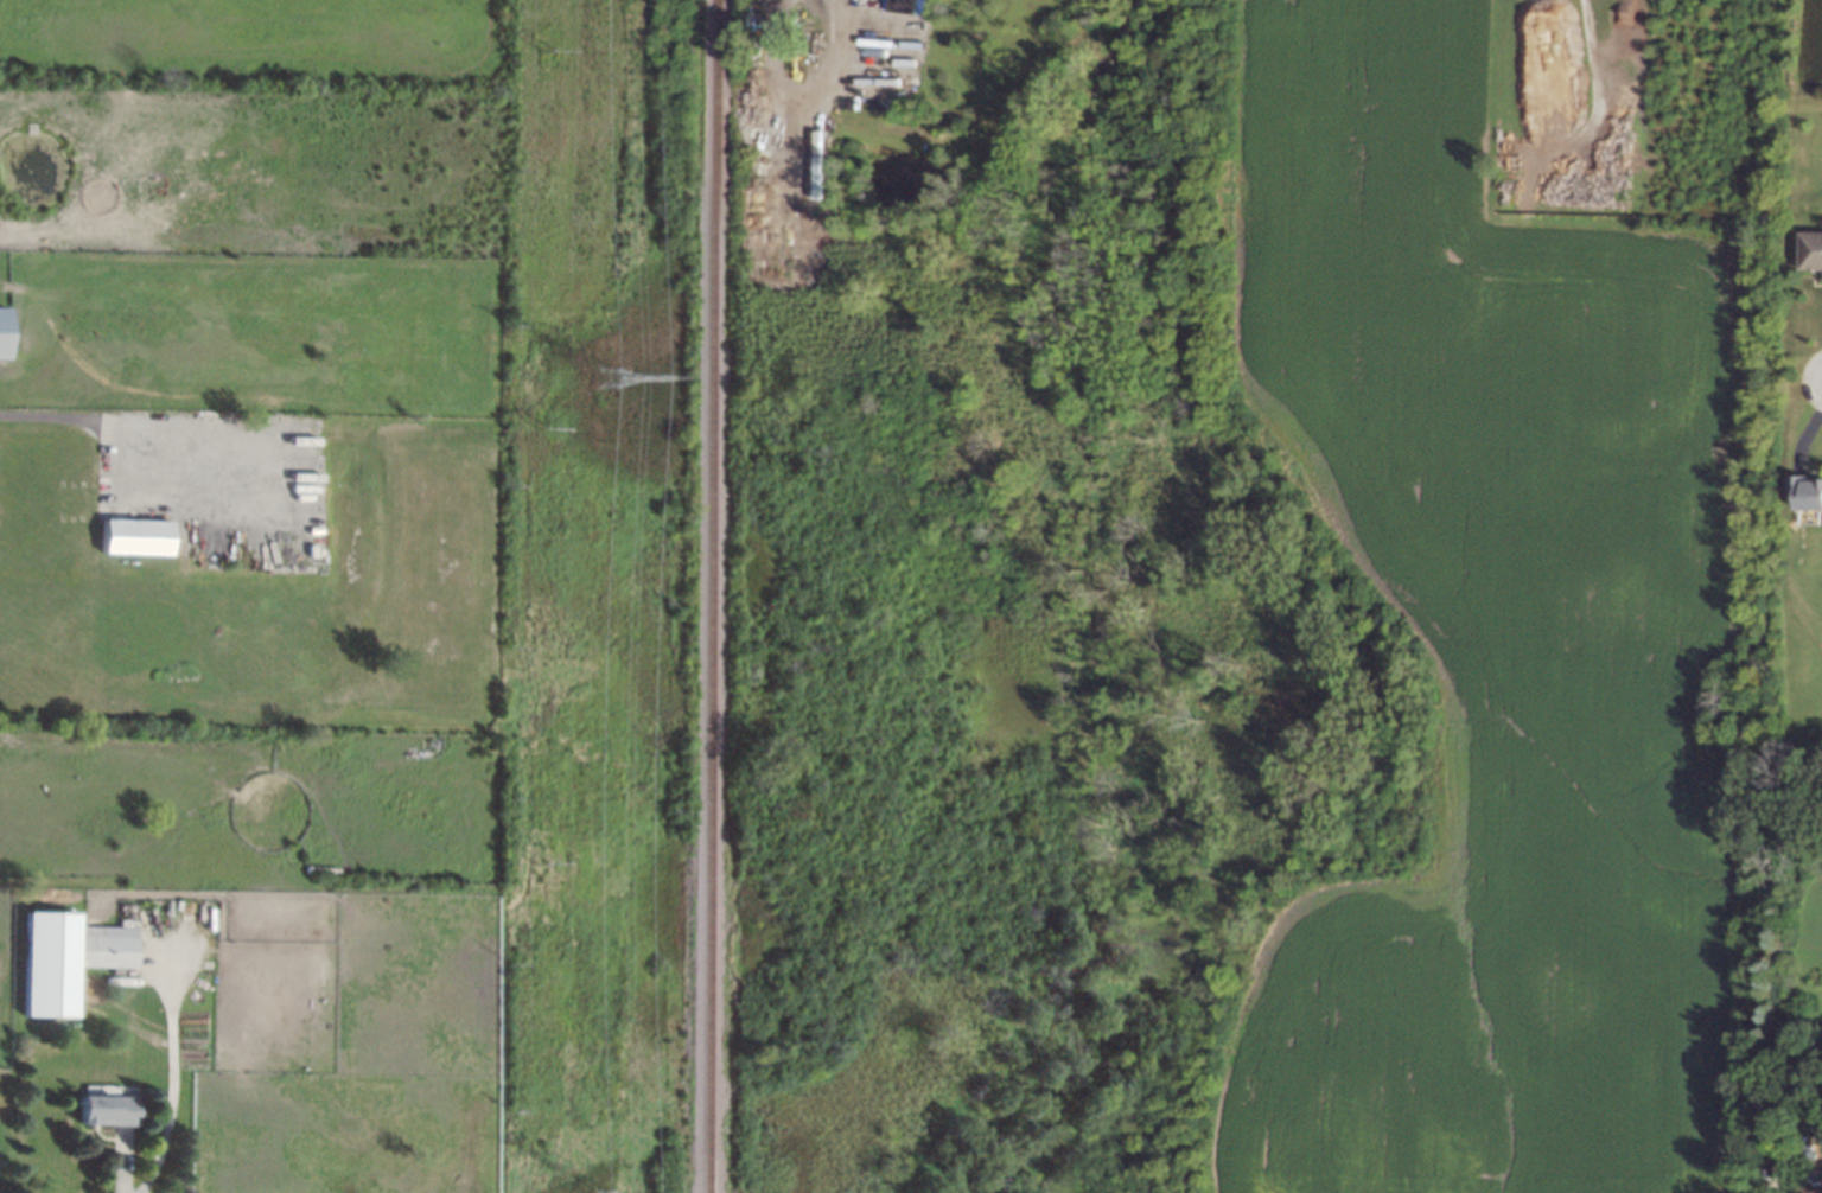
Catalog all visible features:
power tower: (547, 49)
building: (1811, 251)
building: (4, 332)
power tower: (603, 375)
road: (98, 416)
power tower: (547, 427)
building: (1804, 496)
building: (136, 537)
crop: (1504, 576)
railway: (713, 596)
power tower: (544, 865)
building: (69, 961)
crop: (6, 970)
crop: (381, 1067)
road: (173, 1079)
building: (108, 1110)
building: (1810, 1186)

